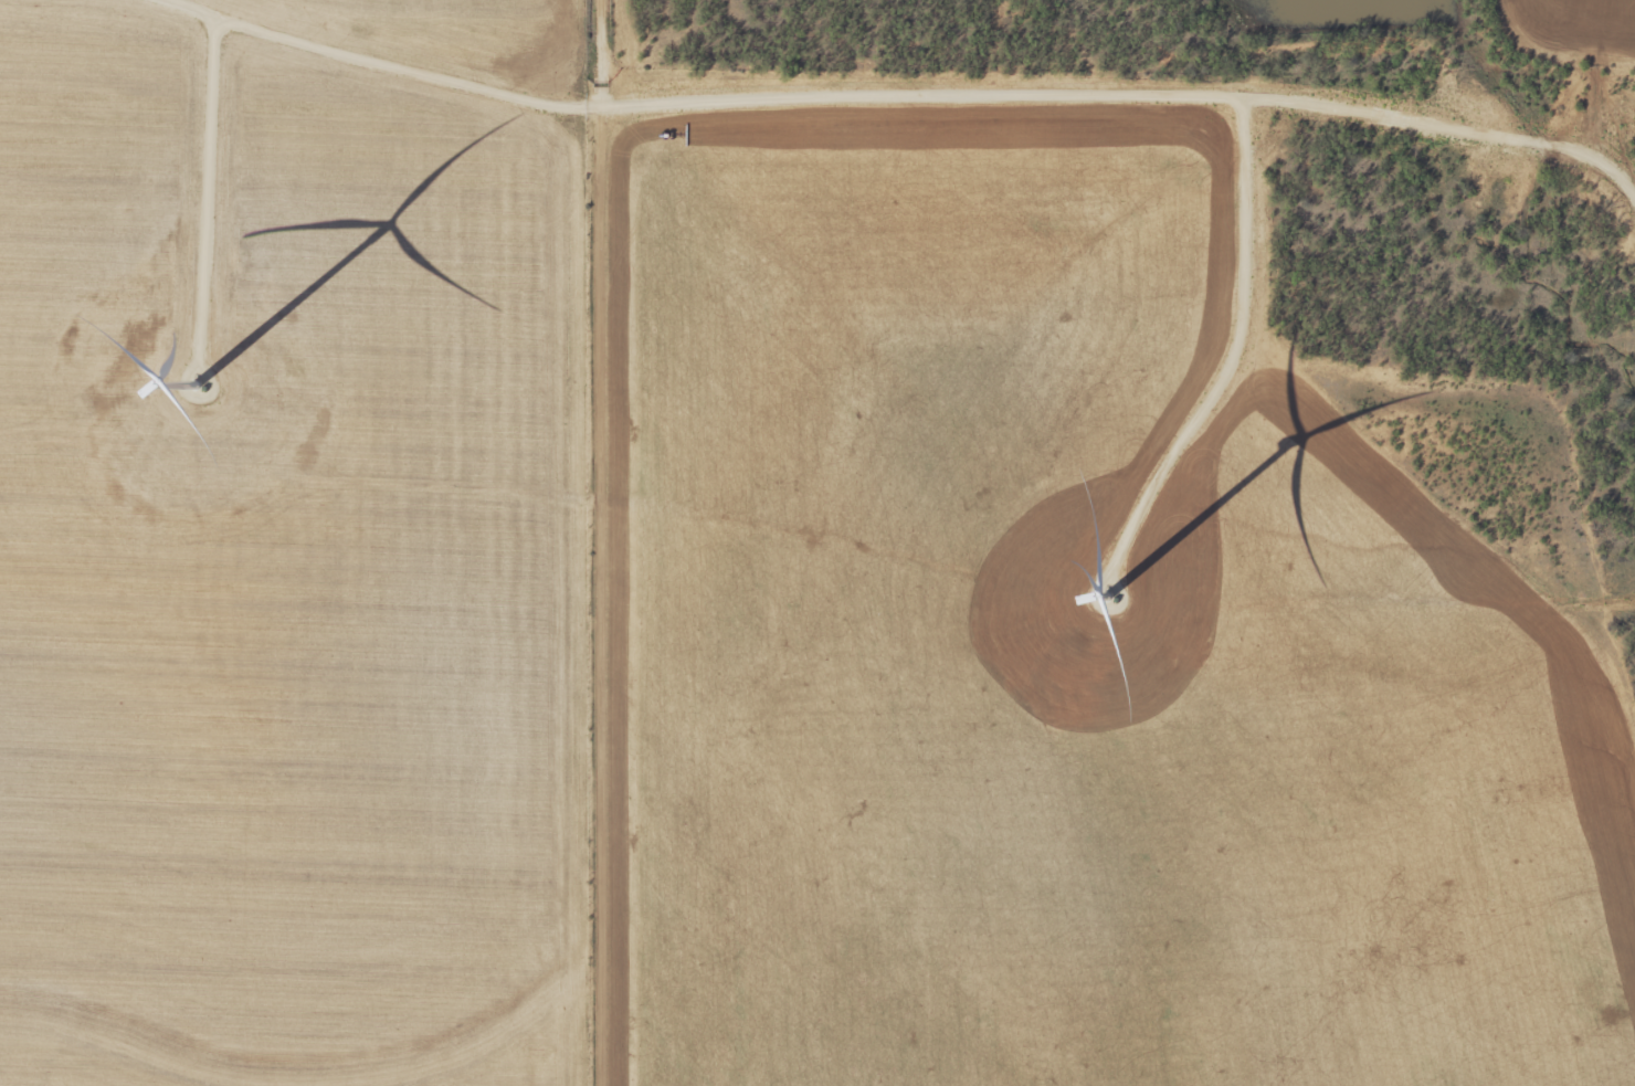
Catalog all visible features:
wind turbine: (202, 380)
road: (604, 542)
wind turbine: (1115, 601)

